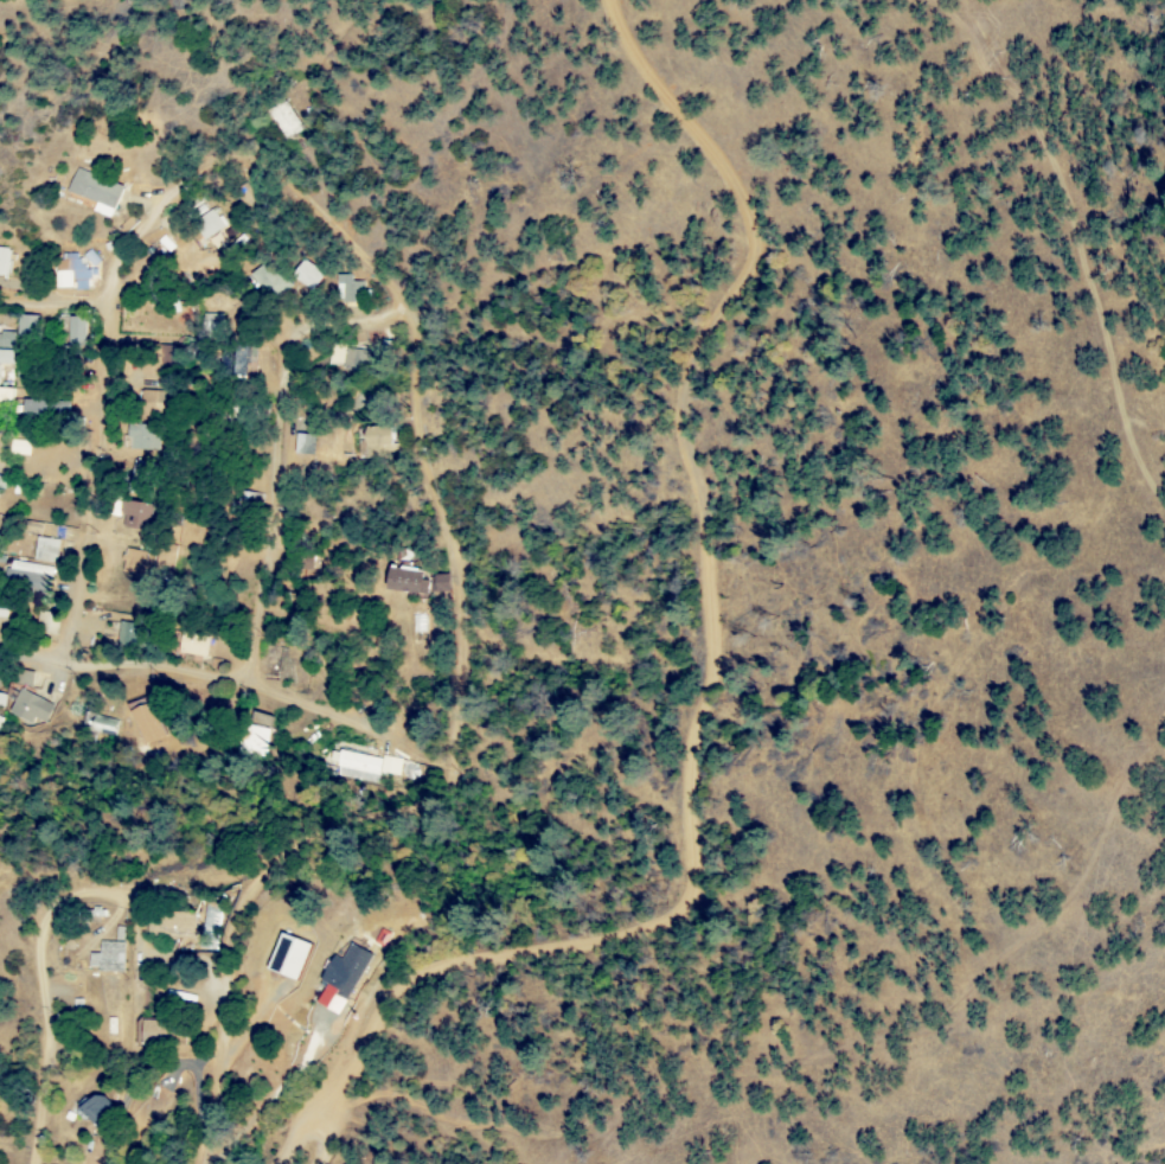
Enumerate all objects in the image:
road: (333, 70)
road: (190, 175)
building: (95, 191)
building: (206, 224)
building: (2, 261)
building: (72, 273)
building: (305, 275)
building: (265, 281)
building: (345, 288)
road: (55, 303)
building: (24, 326)
building: (73, 332)
building: (5, 348)
building: (353, 359)
building: (5, 397)
building: (151, 404)
building: (40, 408)
road: (1126, 412)
building: (142, 437)
building: (375, 440)
road: (275, 456)
road: (429, 479)
building: (1, 482)
road: (100, 486)
building: (133, 516)
building: (44, 550)
building: (130, 562)
building: (27, 577)
building: (404, 581)
building: (439, 583)
building: (2, 613)
building: (190, 646)
road: (715, 666)
road: (236, 683)
building: (25, 698)
building: (145, 723)
building: (102, 724)
building: (255, 734)
building: (361, 766)
road: (365, 823)
building: (168, 922)
road: (58, 934)
building: (105, 955)
building: (286, 955)
building: (340, 977)
road: (228, 1016)
building: (91, 1107)
road: (319, 1137)

